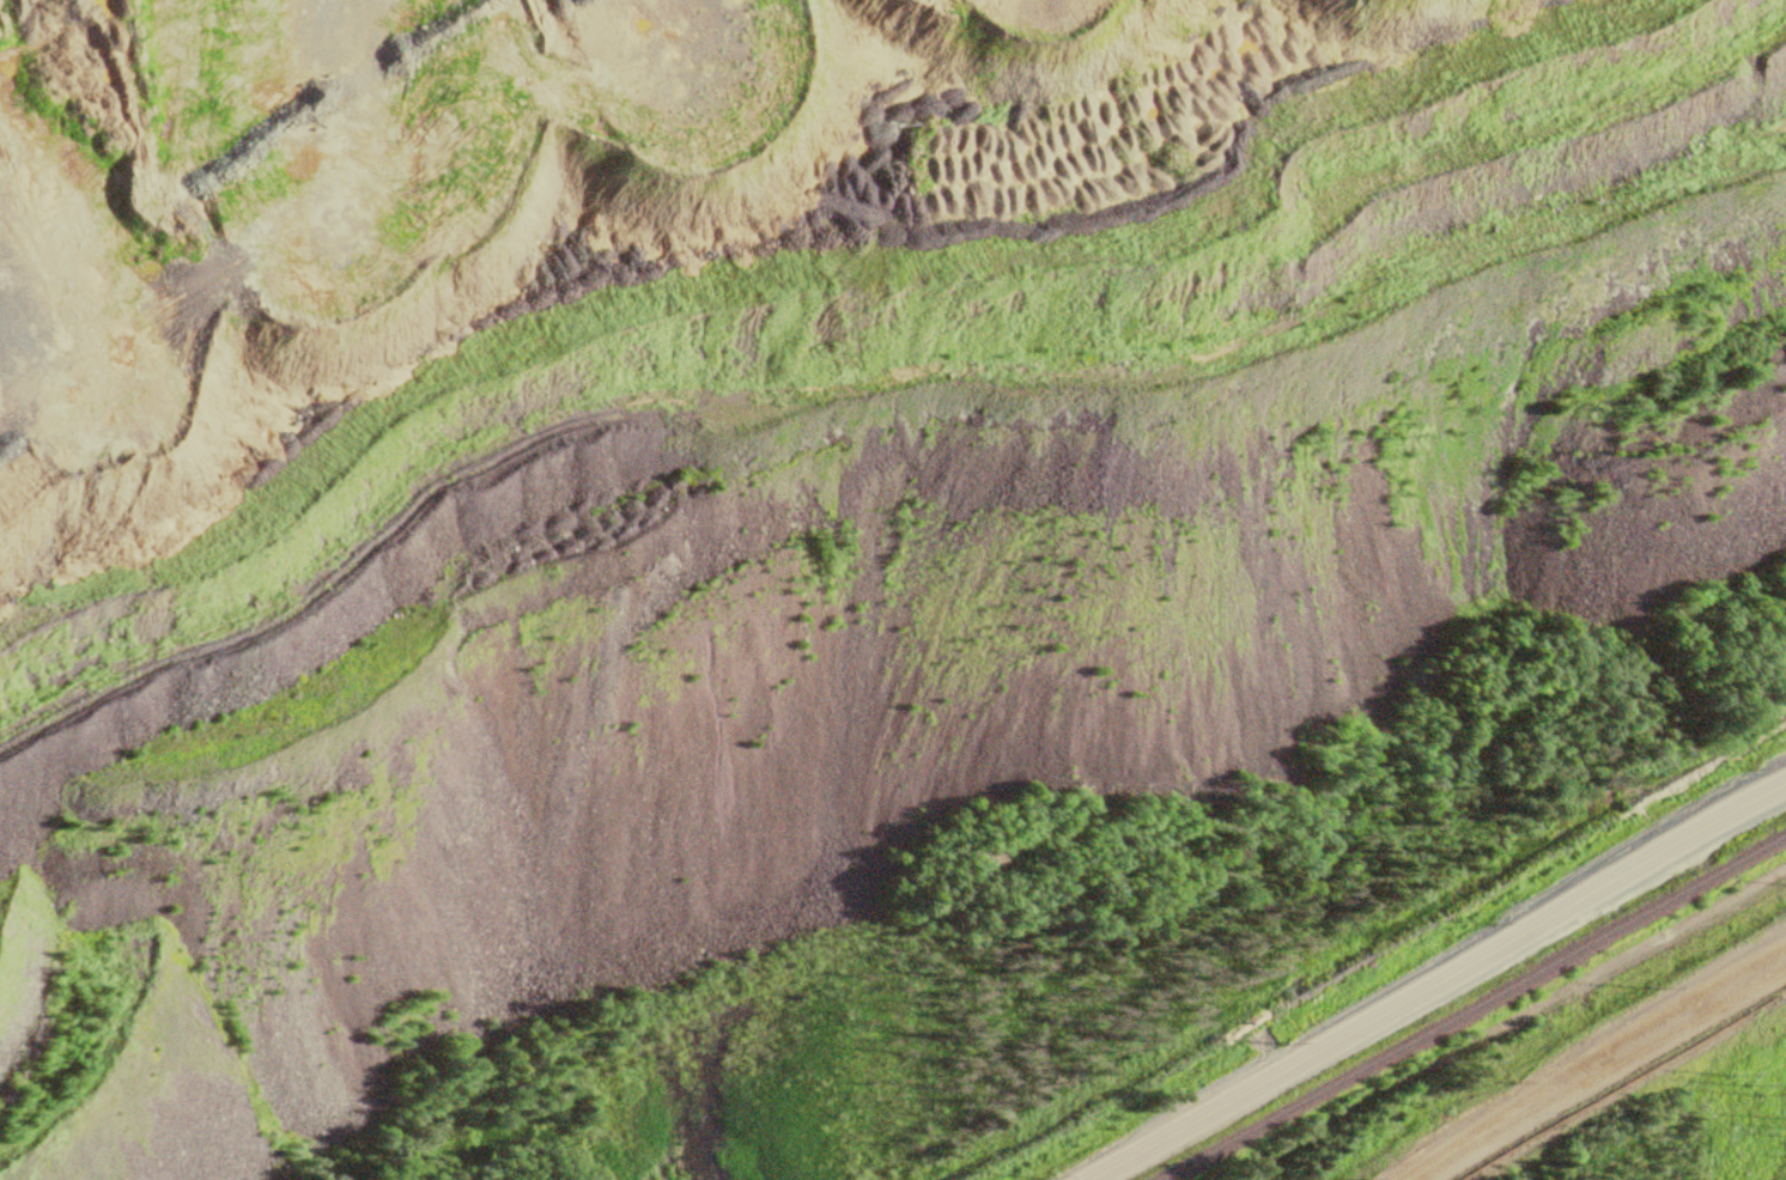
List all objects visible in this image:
quarry: (776, 469)
road: (1774, 756)
road: (1689, 831)
railway: (1465, 1005)
road: (1332, 1033)
road: (1566, 1071)

